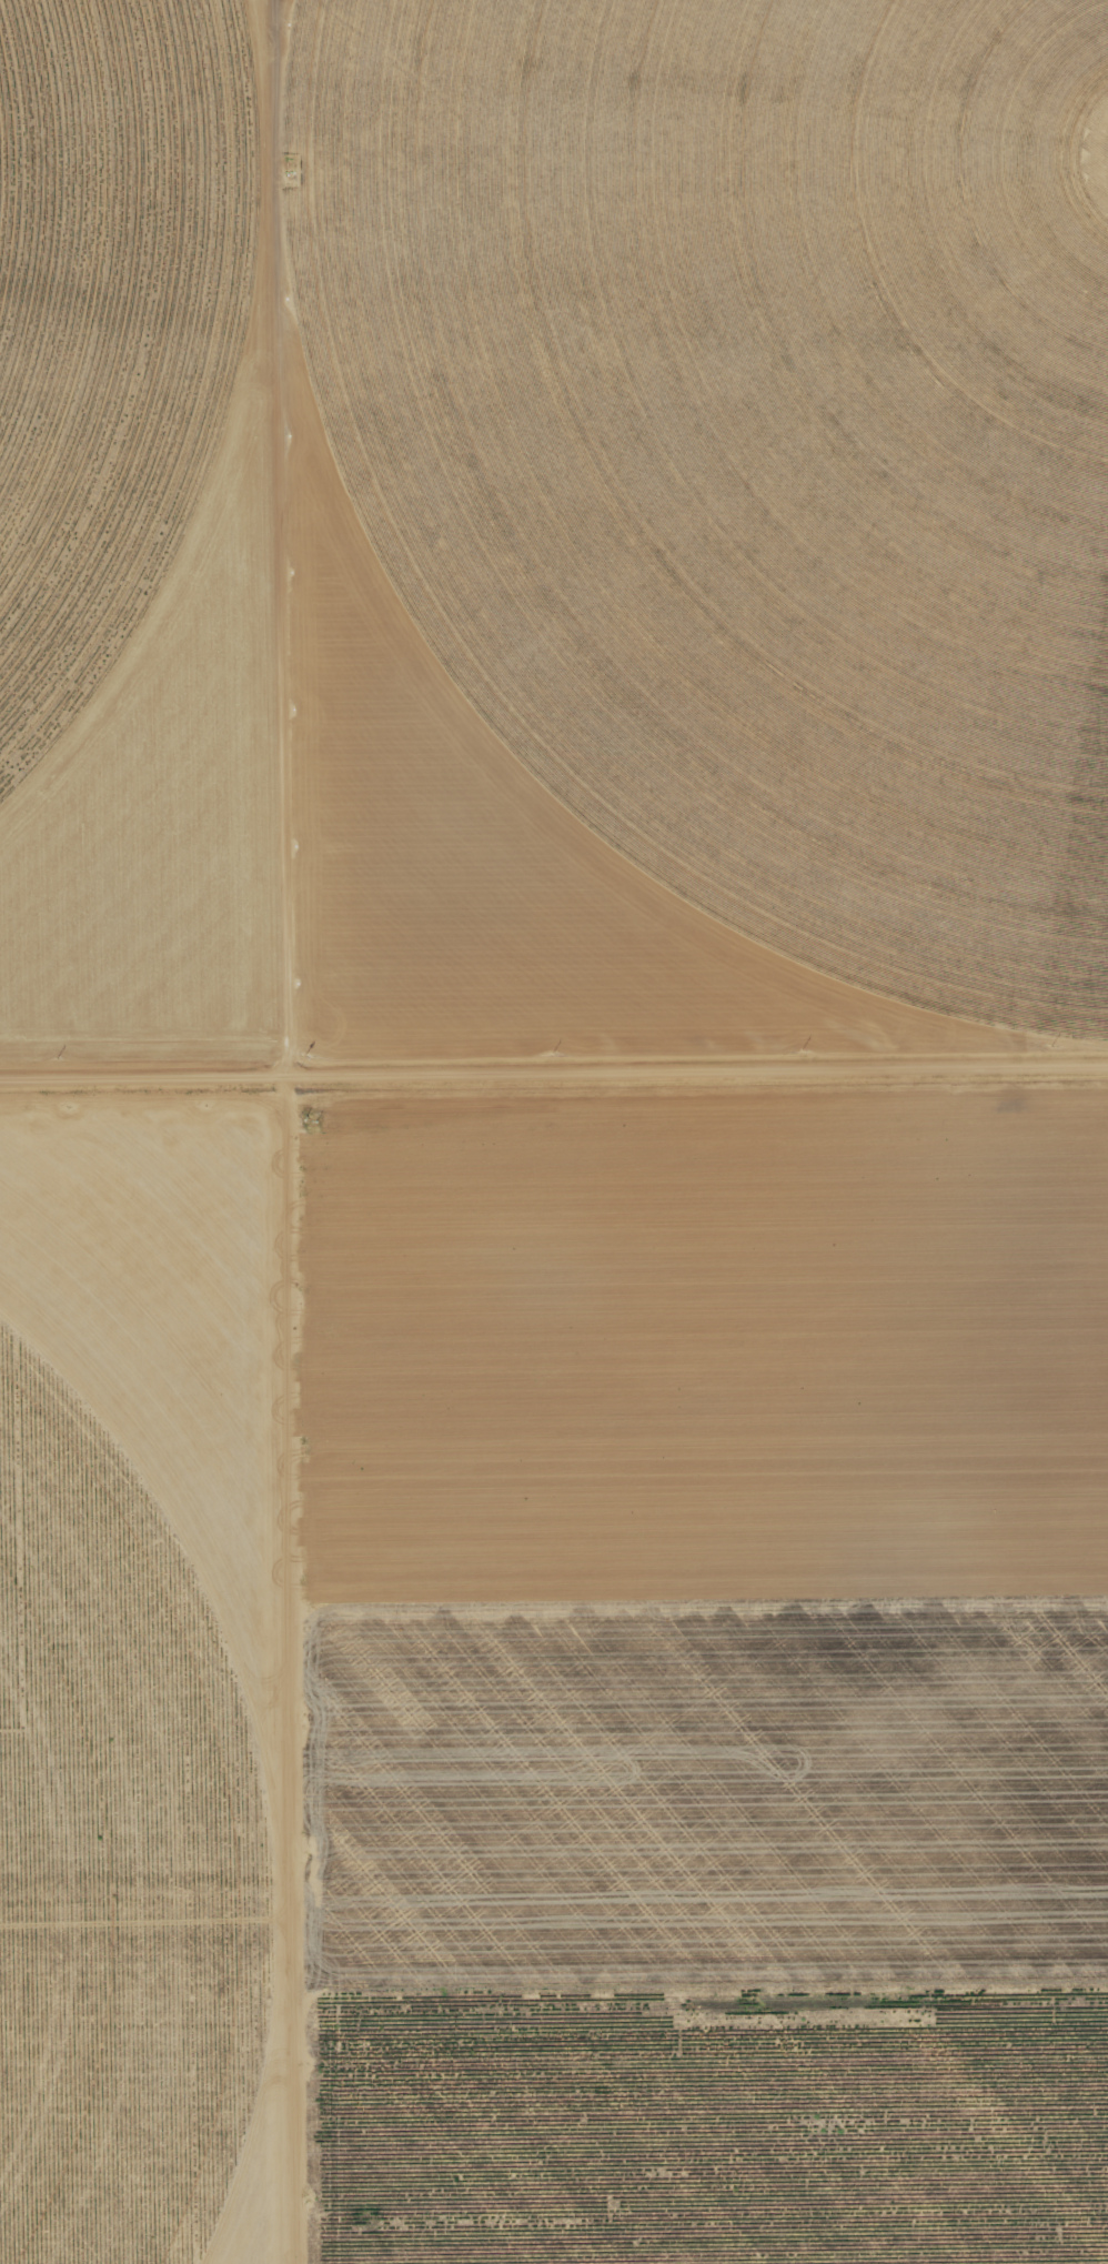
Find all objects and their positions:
road: (554, 1078)
road: (288, 1131)

